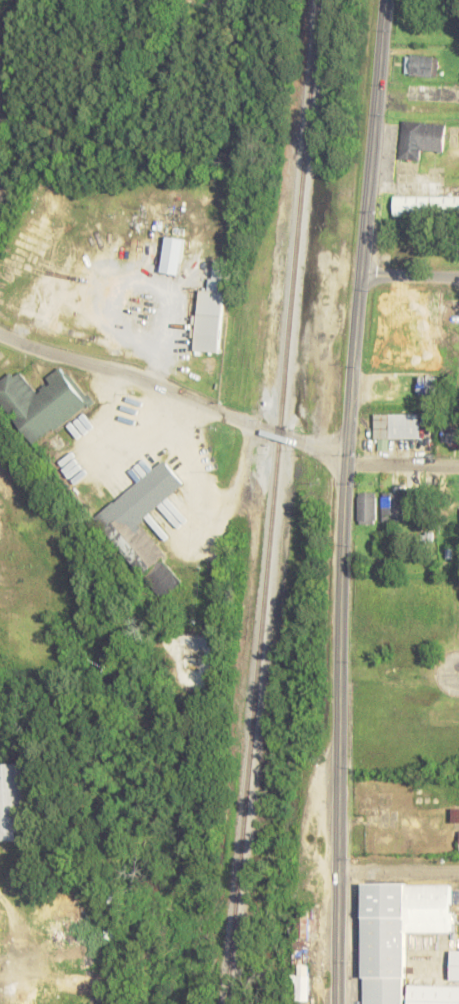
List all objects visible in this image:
building: (421, 66)
building: (419, 138)
building: (425, 205)
building: (172, 255)
road: (408, 277)
building: (209, 312)
road: (173, 394)
building: (41, 402)
building: (393, 427)
building: (450, 434)
road: (401, 464)
railway: (271, 501)
road: (342, 501)
building: (391, 506)
building: (365, 507)
building: (142, 527)
road: (456, 675)
building: (12, 799)
building: (456, 814)
road: (397, 874)
building: (395, 932)
building: (300, 958)
building: (453, 965)
building: (432, 994)

